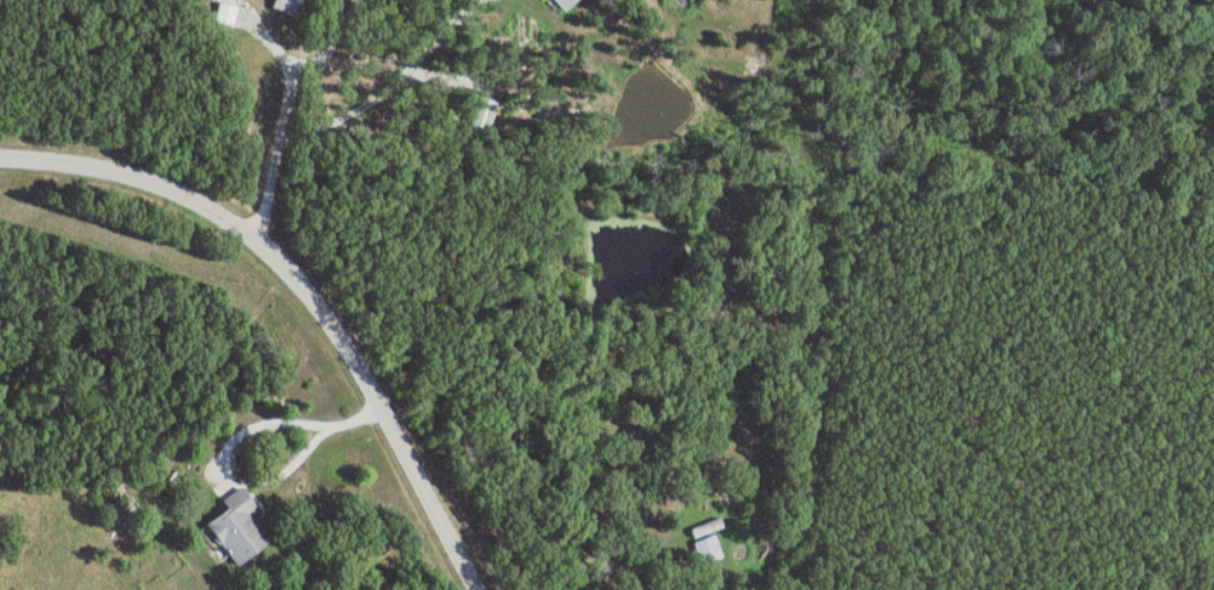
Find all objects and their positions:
building: (564, 2)
building: (287, 6)
road: (389, 84)
road: (285, 111)
building: (482, 118)
road: (306, 290)
road: (359, 417)
road: (238, 442)
building: (240, 527)
building: (709, 549)

